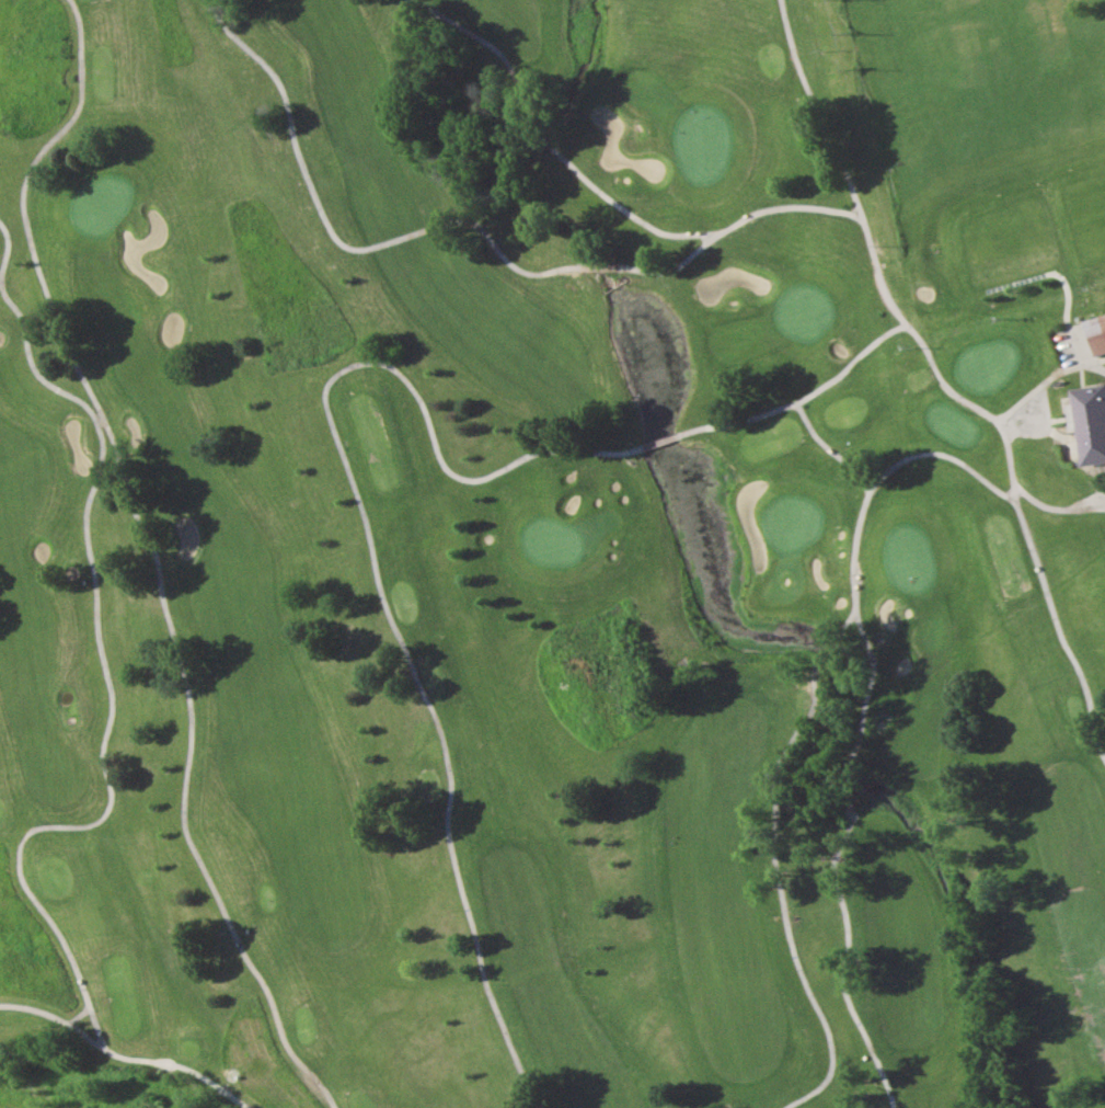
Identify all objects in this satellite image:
building: (1096, 332)
building: (1090, 422)
park: (552, 553)

